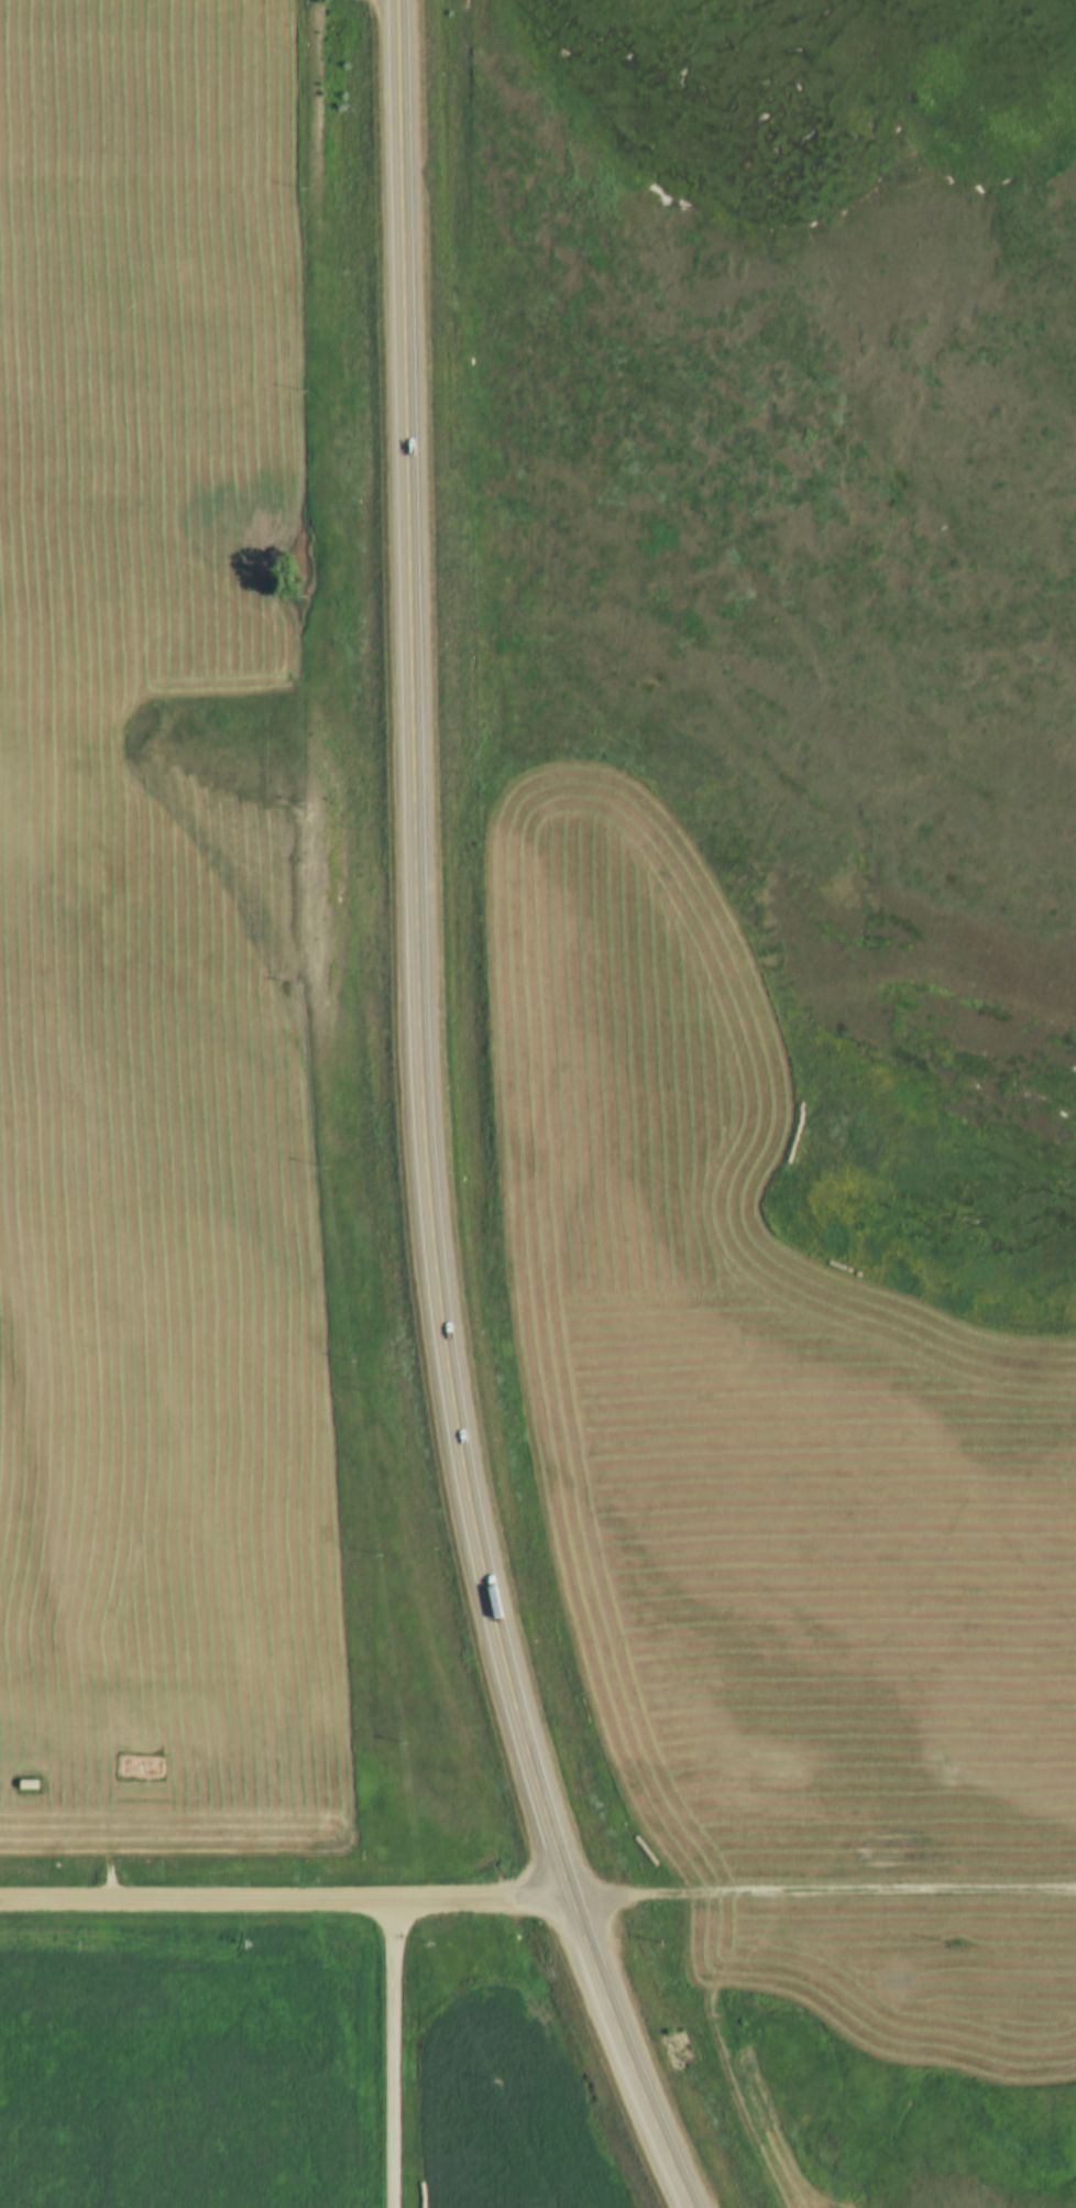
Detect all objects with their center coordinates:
road: (400, 1125)
road: (819, 1888)
road: (281, 1900)
road: (395, 2054)

